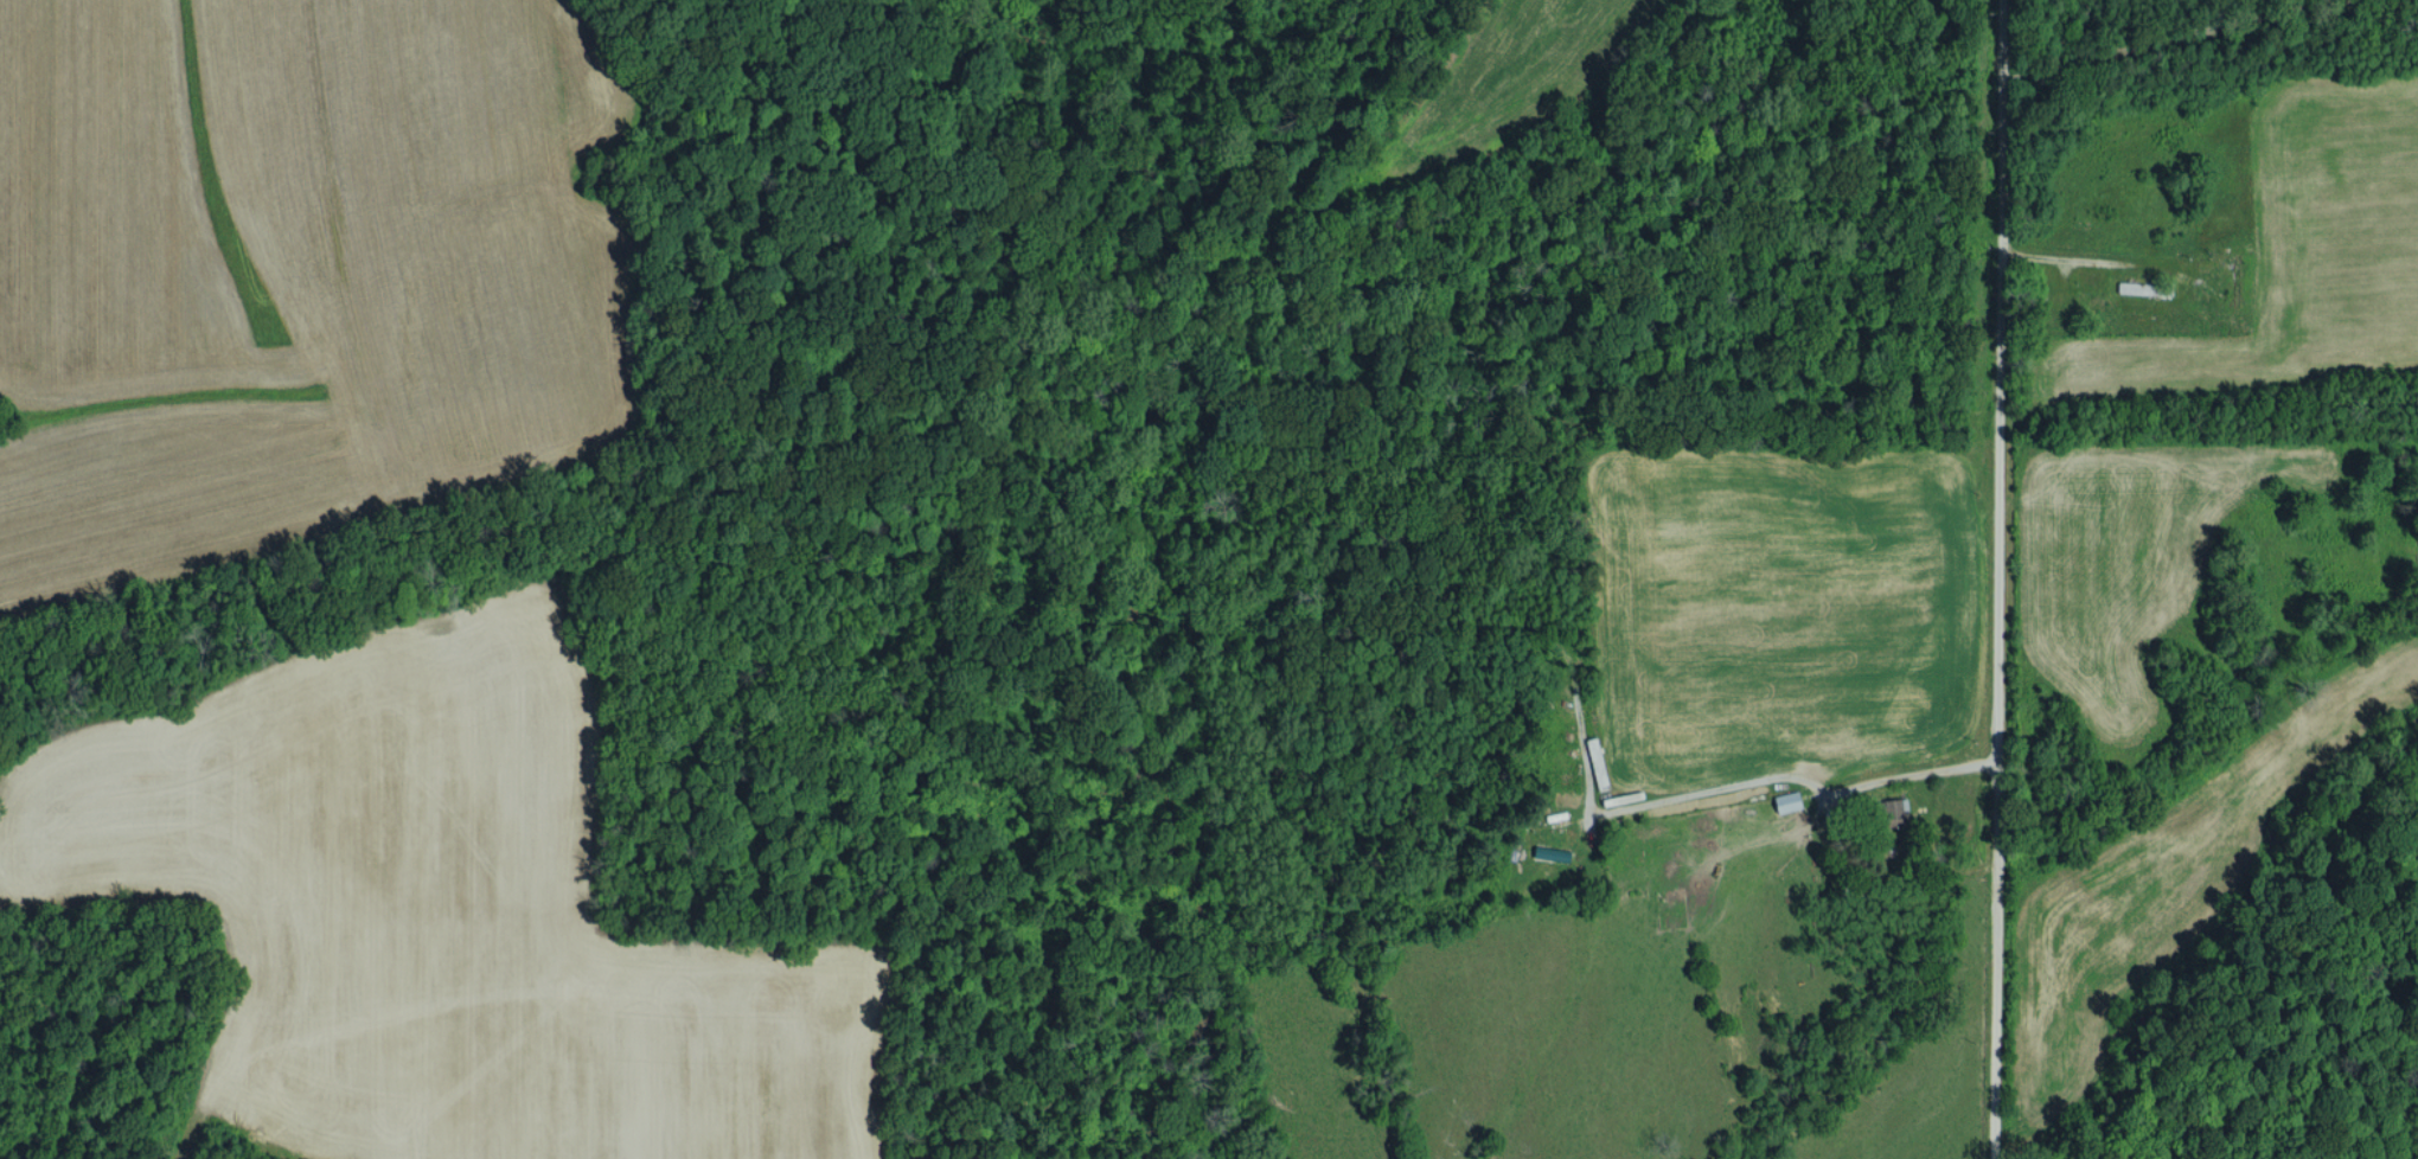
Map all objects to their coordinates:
road: (2003, 578)
building: (1783, 801)

